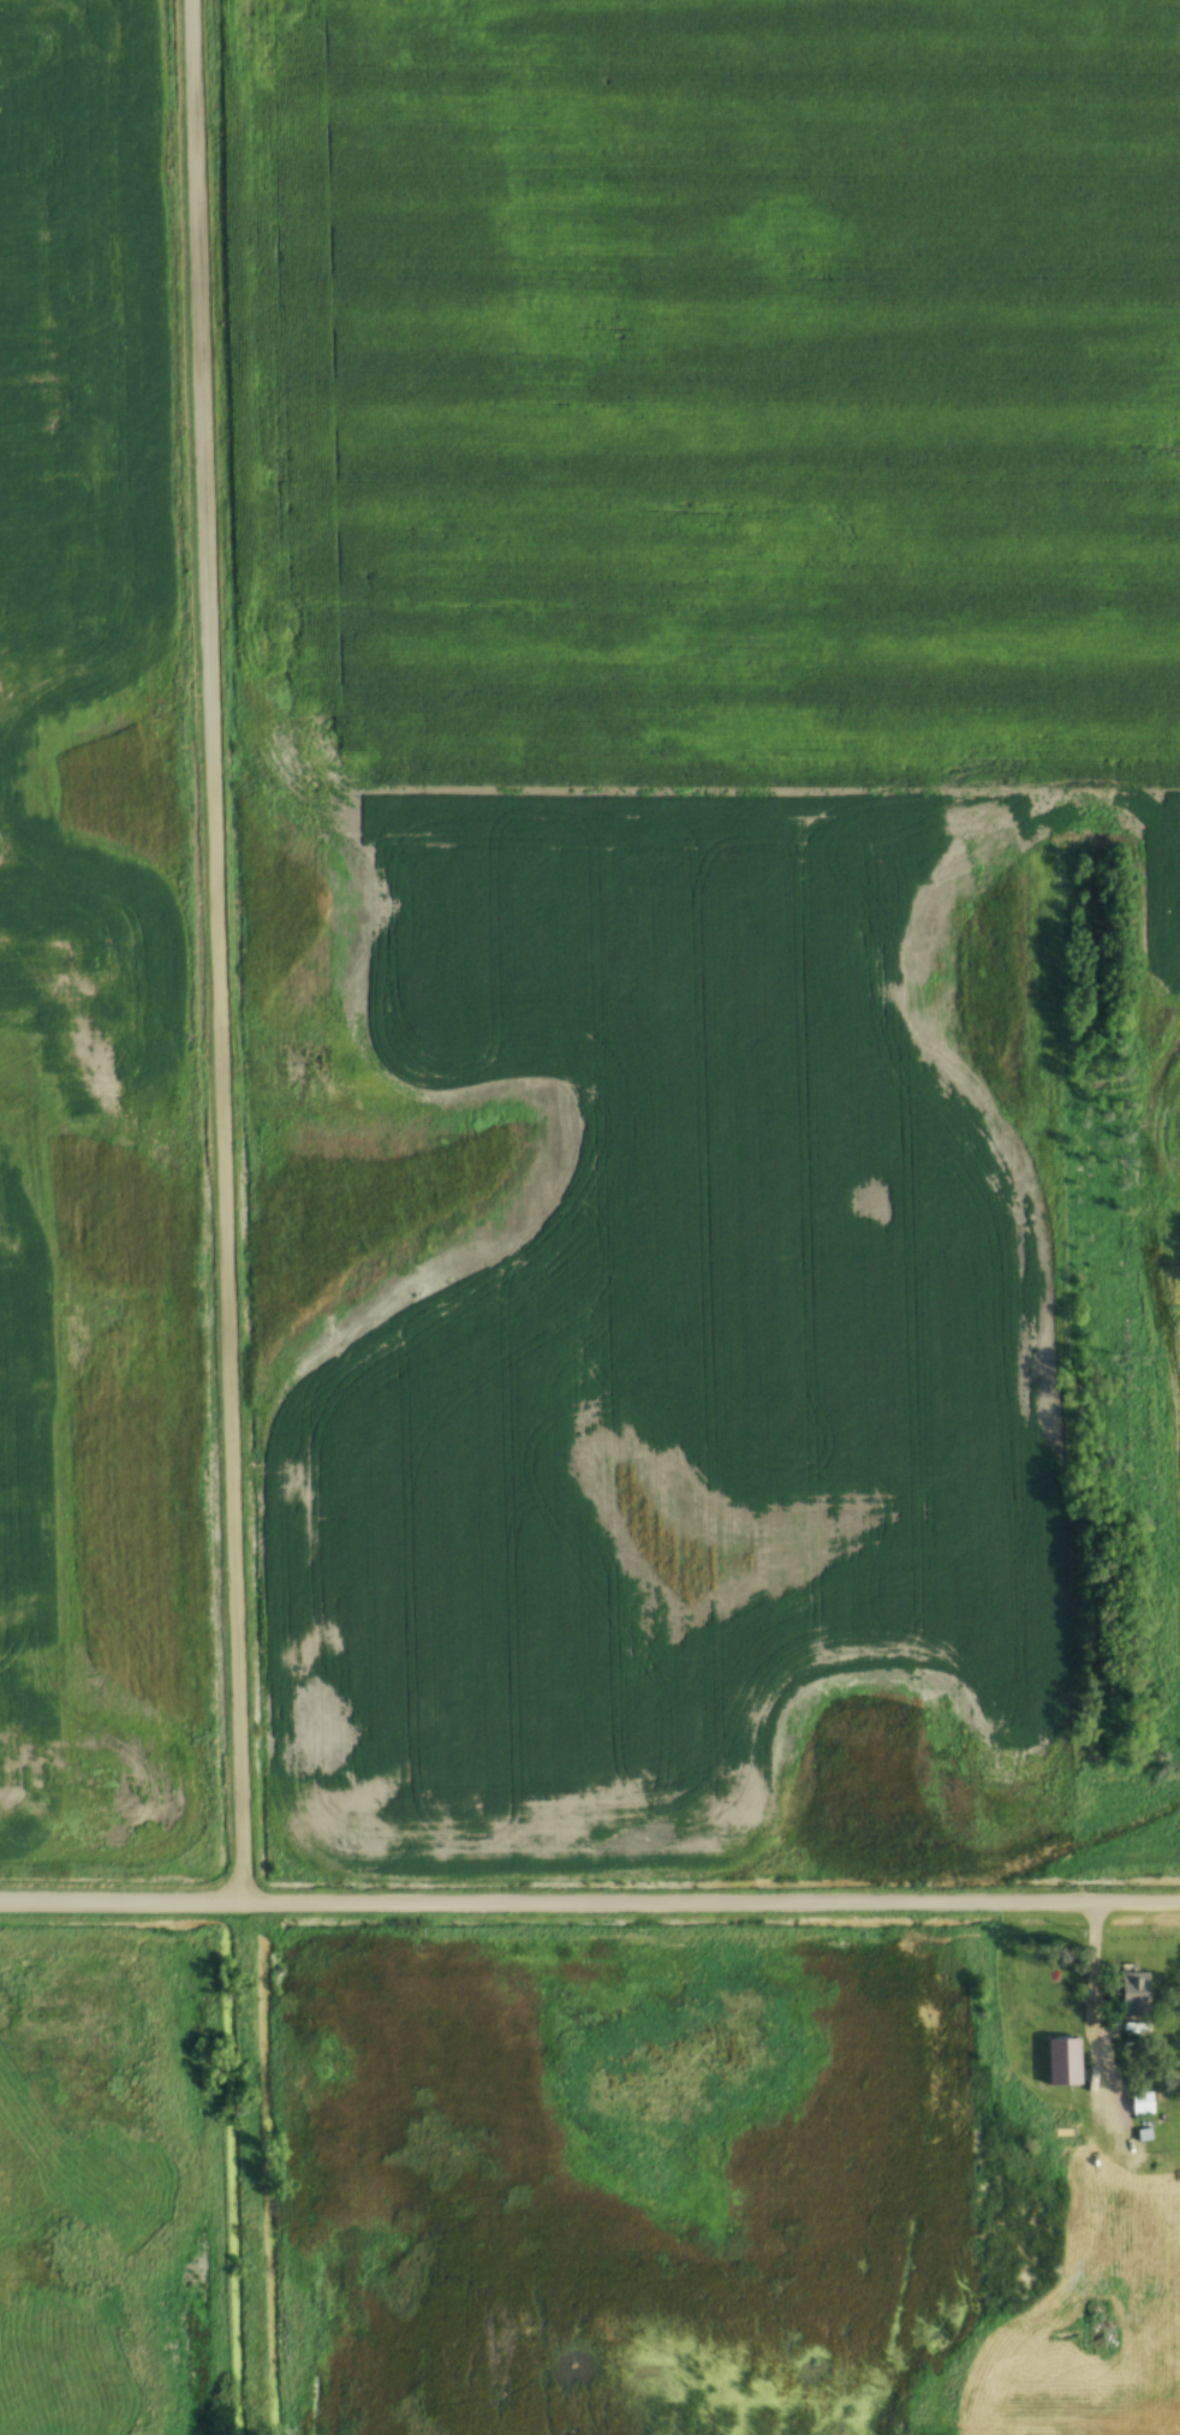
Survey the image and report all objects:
road: (216, 949)
road: (589, 1900)
building: (1131, 1995)
building: (1075, 2068)
building: (1140, 2103)

